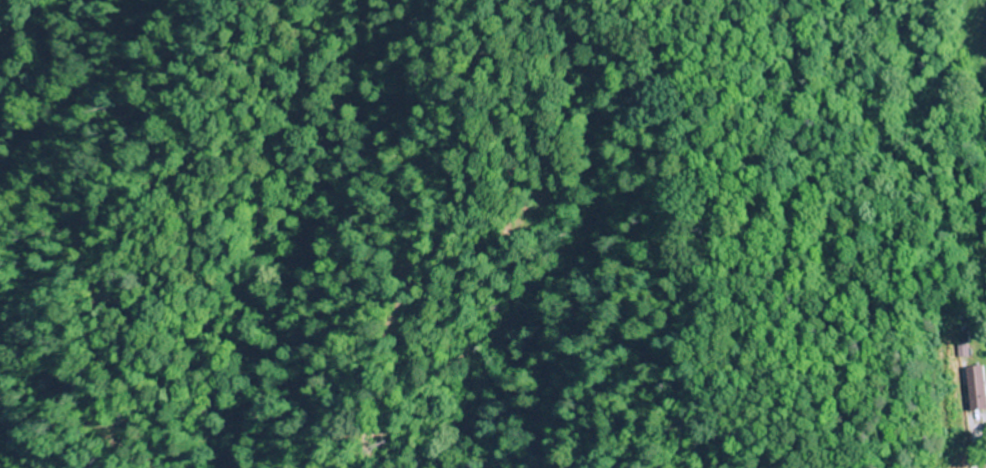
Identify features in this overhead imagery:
building: (977, 386)

